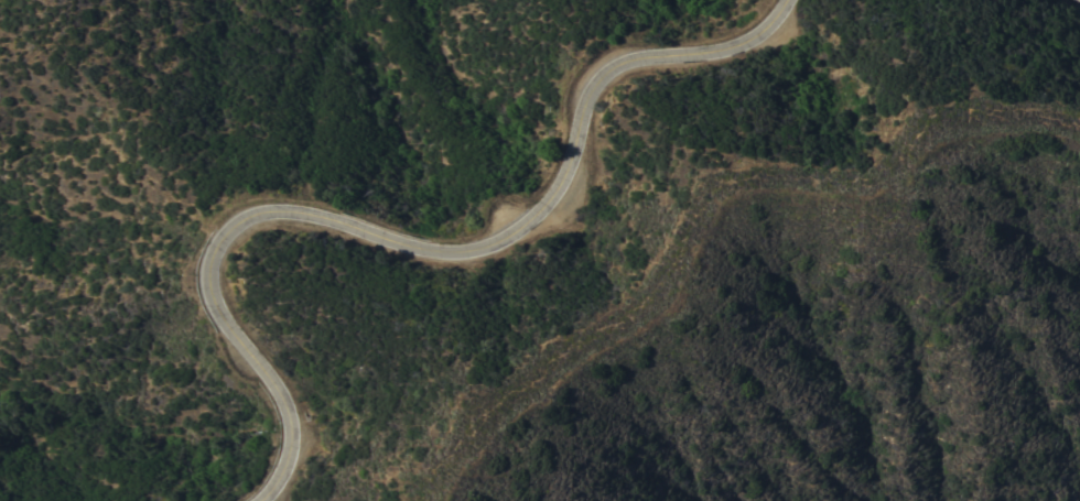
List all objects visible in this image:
road: (712, 218)
road: (413, 247)

